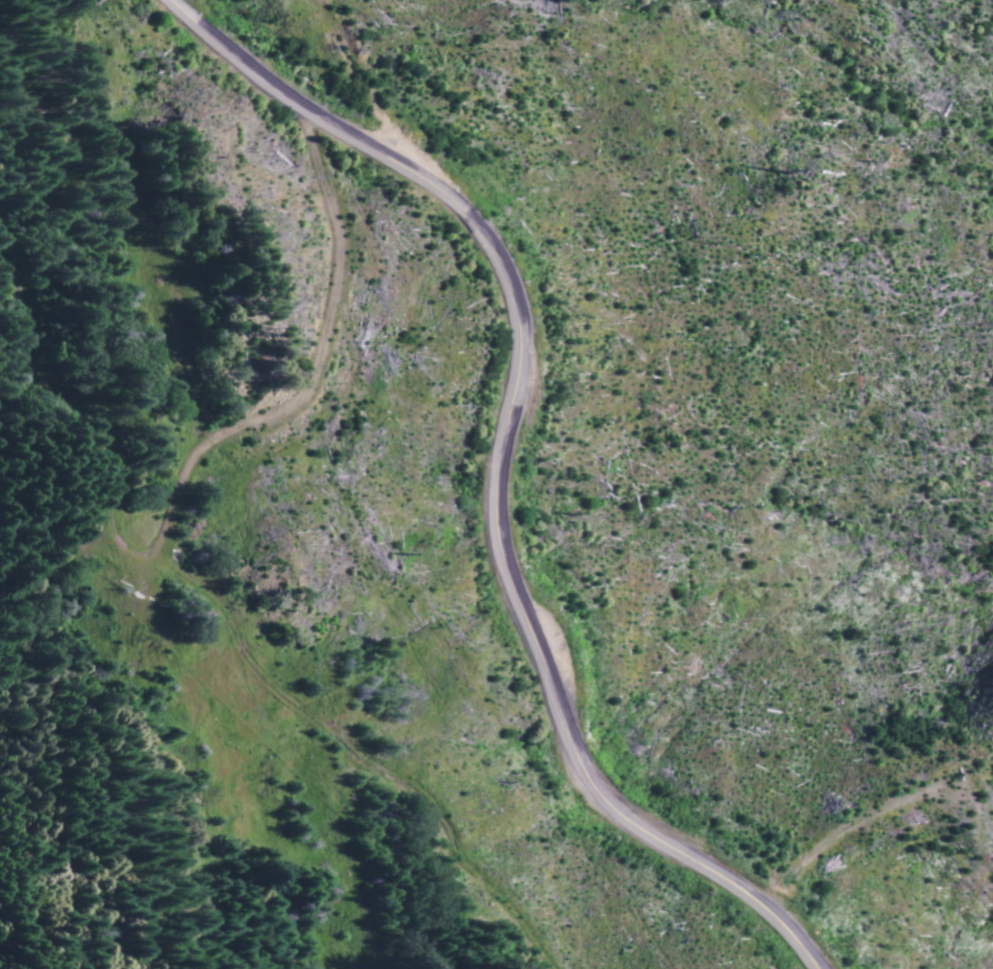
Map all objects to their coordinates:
road: (499, 464)

